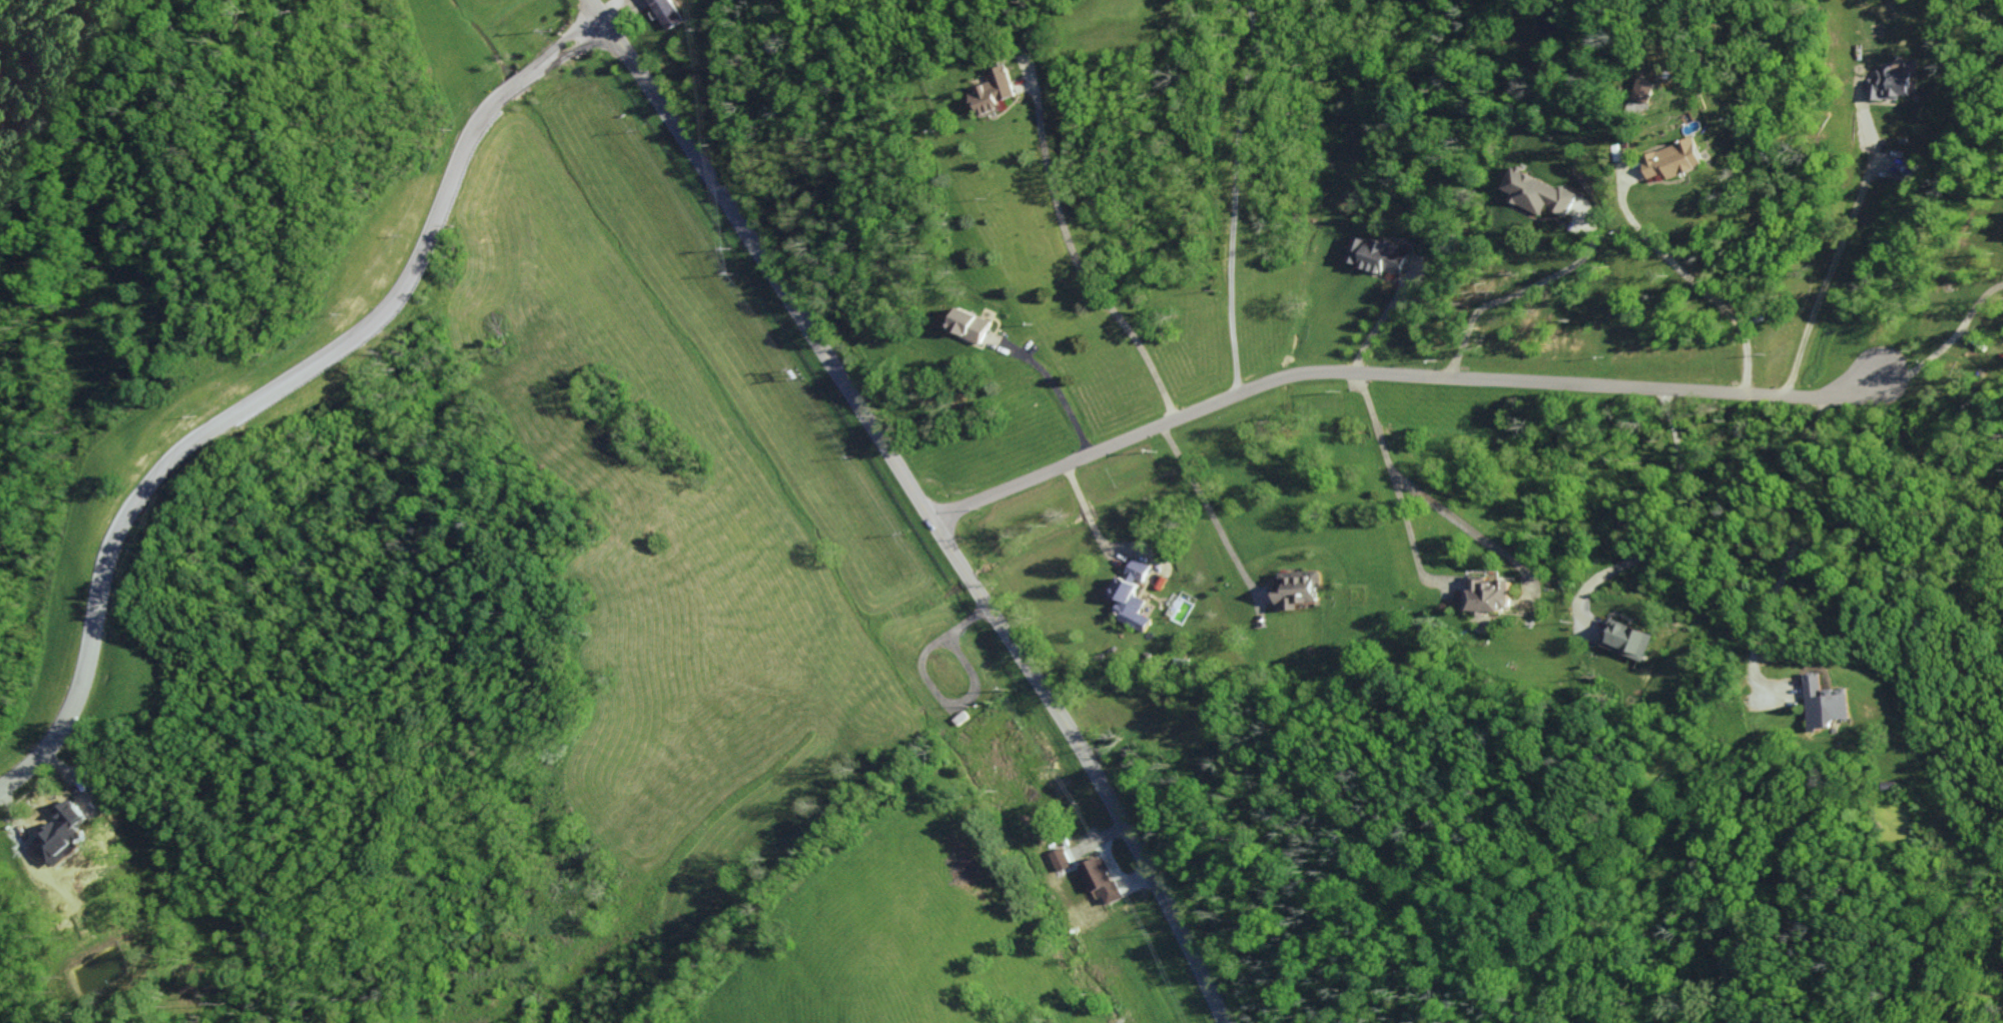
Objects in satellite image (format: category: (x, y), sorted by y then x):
building: (667, 13)
building: (1897, 82)
building: (1647, 91)
building: (999, 92)
building: (1679, 160)
building: (1543, 193)
road: (1239, 194)
building: (1582, 210)
road: (1840, 245)
building: (1378, 256)
road: (1078, 276)
road: (1696, 285)
road: (1523, 297)
road: (1976, 304)
road: (1384, 318)
building: (971, 325)
road: (1977, 346)
road: (1922, 364)
road: (1391, 372)
road: (1057, 388)
road: (276, 394)
road: (1396, 496)
road: (921, 502)
road: (1207, 509)
road: (1092, 520)
road: (1479, 534)
road: (1678, 535)
road: (1789, 561)
building: (1302, 589)
building: (1494, 594)
building: (1132, 596)
building: (1630, 639)
building: (1829, 704)
building: (76, 815)
building: (1063, 860)
building: (1100, 874)

